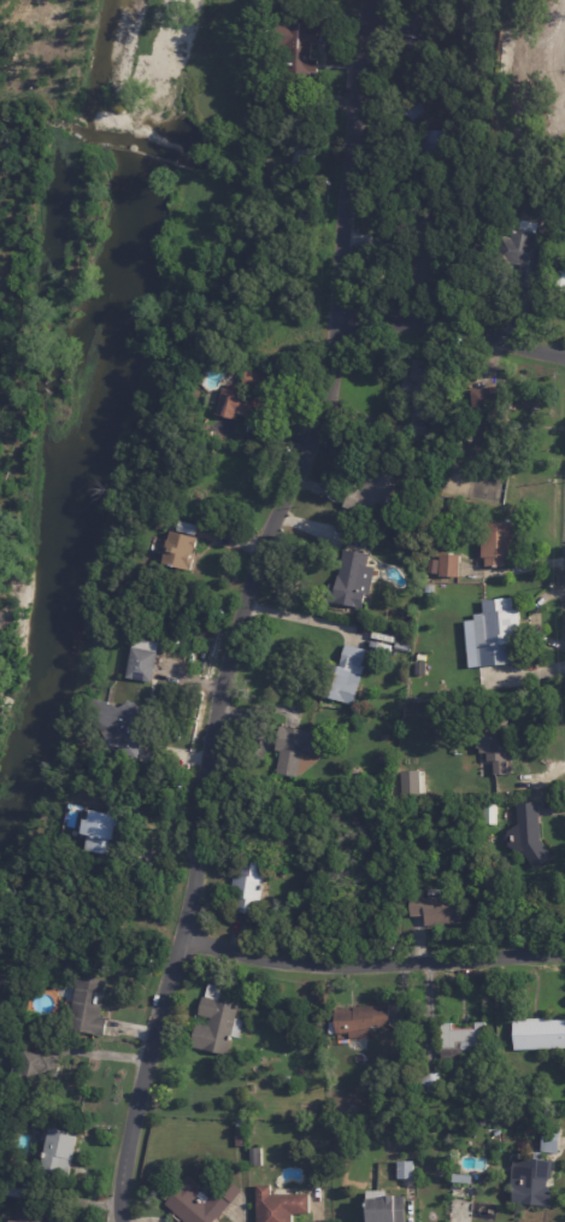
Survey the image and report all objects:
building: (418, 29)
building: (300, 52)
building: (413, 106)
building: (305, 139)
building: (437, 147)
building: (423, 252)
building: (525, 257)
road: (451, 317)
building: (418, 389)
building: (248, 399)
building: (489, 413)
building: (375, 495)
building: (419, 527)
building: (501, 542)
building: (186, 550)
building: (448, 566)
building: (351, 582)
road: (245, 609)
building: (500, 631)
building: (405, 646)
building: (145, 660)
building: (345, 675)
building: (416, 687)
building: (123, 724)
building: (499, 741)
building: (301, 752)
building: (388, 757)
building: (360, 772)
building: (407, 781)
building: (490, 813)
building: (106, 828)
building: (530, 835)
building: (249, 887)
building: (439, 912)
road: (371, 956)
building: (89, 1005)
building: (363, 1021)
building: (219, 1023)
building: (541, 1034)
building: (466, 1041)
building: (35, 1071)
building: (432, 1081)
building: (4, 1130)
building: (243, 1133)
building: (554, 1139)
building: (60, 1151)
building: (257, 1157)
building: (406, 1170)
building: (535, 1182)
building: (13, 1194)
building: (205, 1202)
building: (281, 1205)
building: (383, 1206)
building: (31, 1216)

